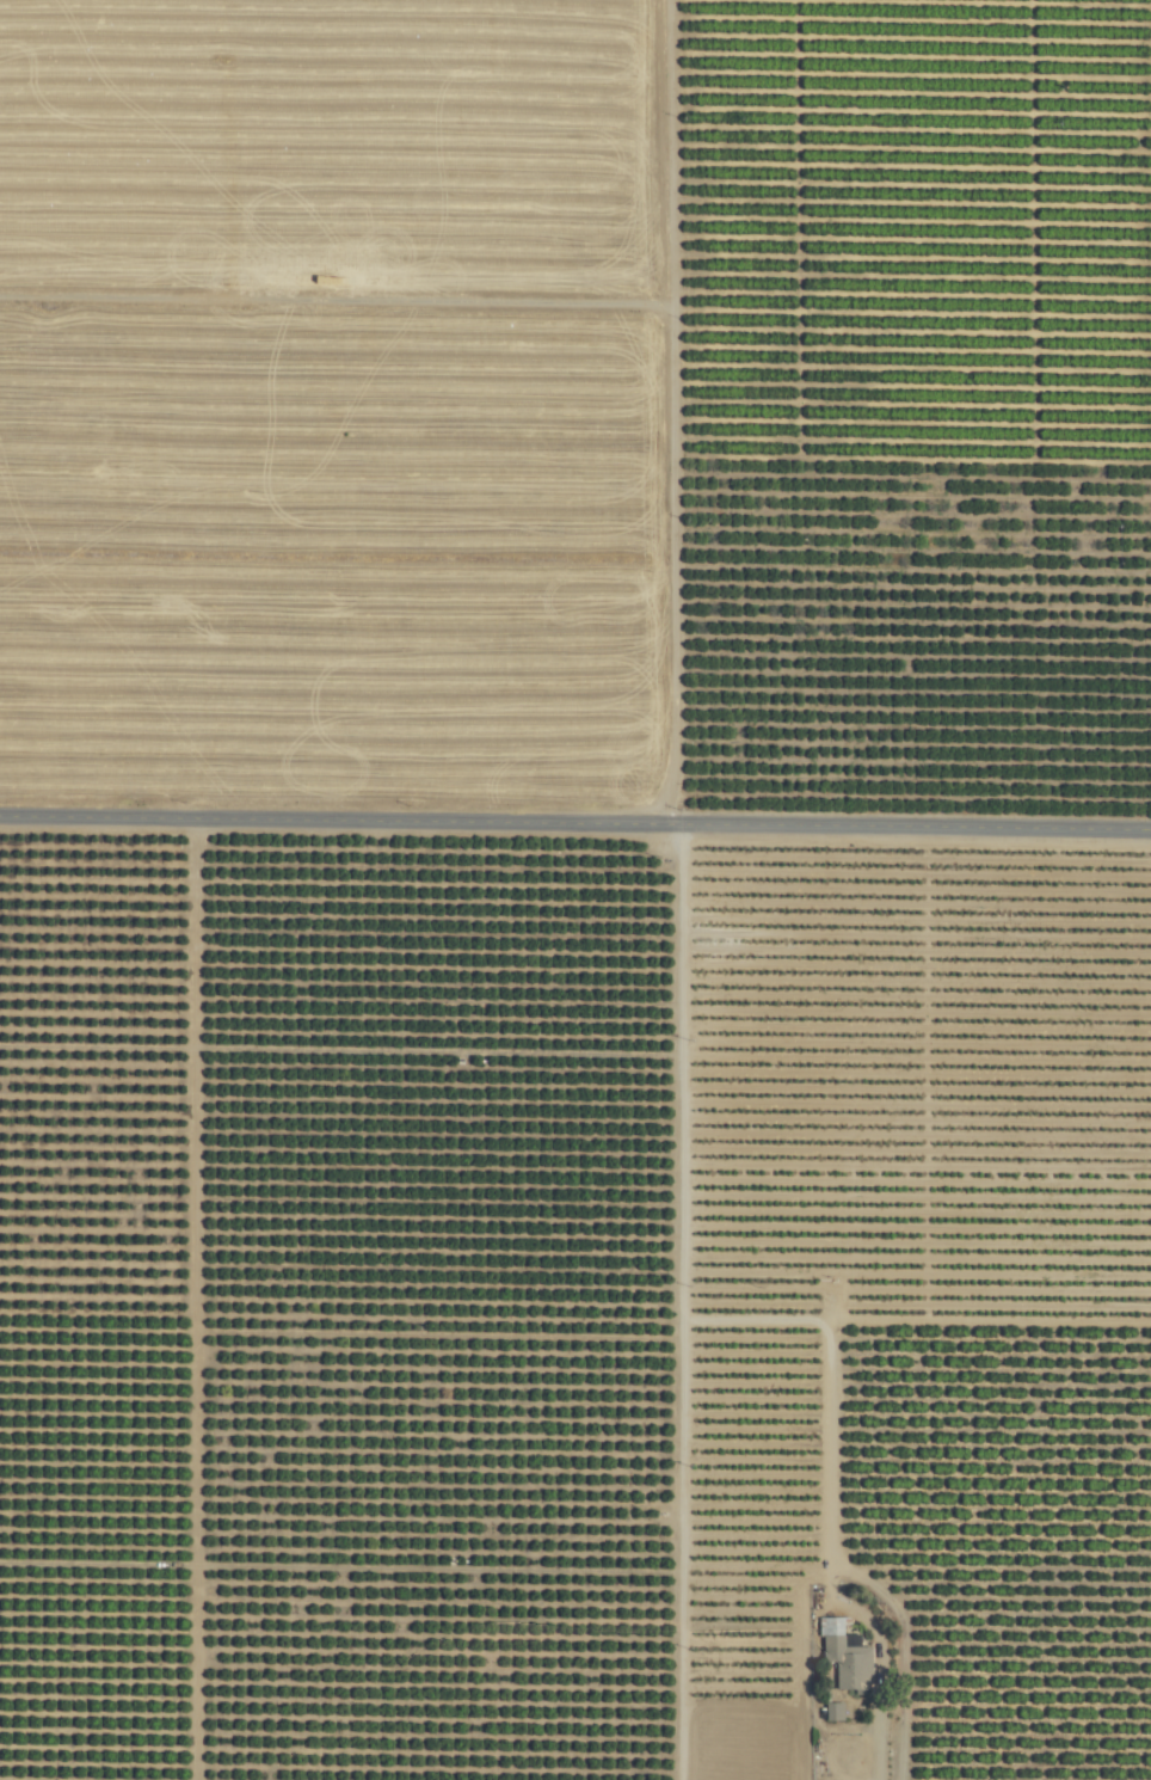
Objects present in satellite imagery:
road: (575, 823)
crop: (575, 890)
road: (673, 1302)
road: (808, 1494)
building: (844, 1656)
building: (832, 1711)

